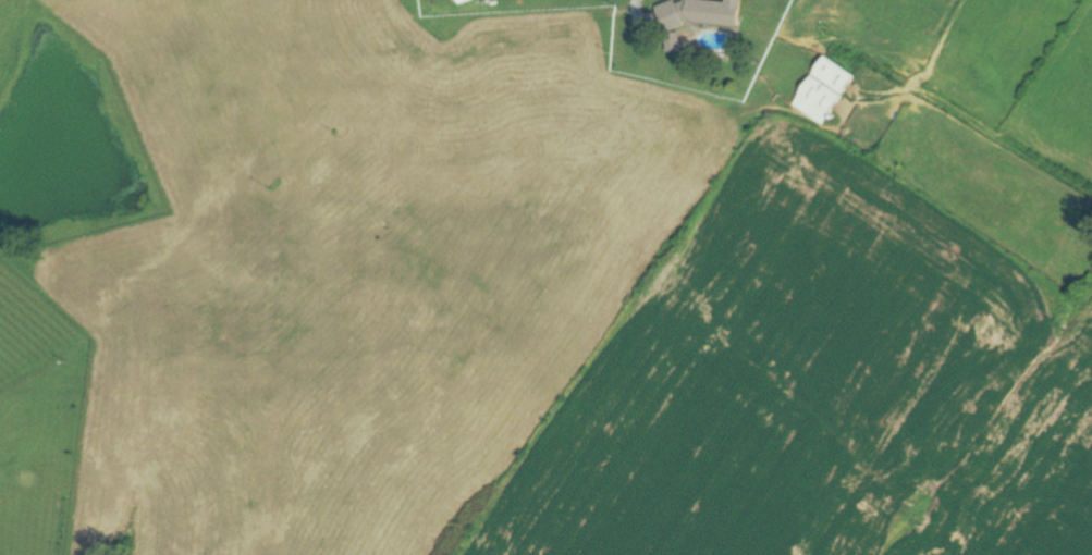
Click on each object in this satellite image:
building: (695, 15)
building: (820, 90)

